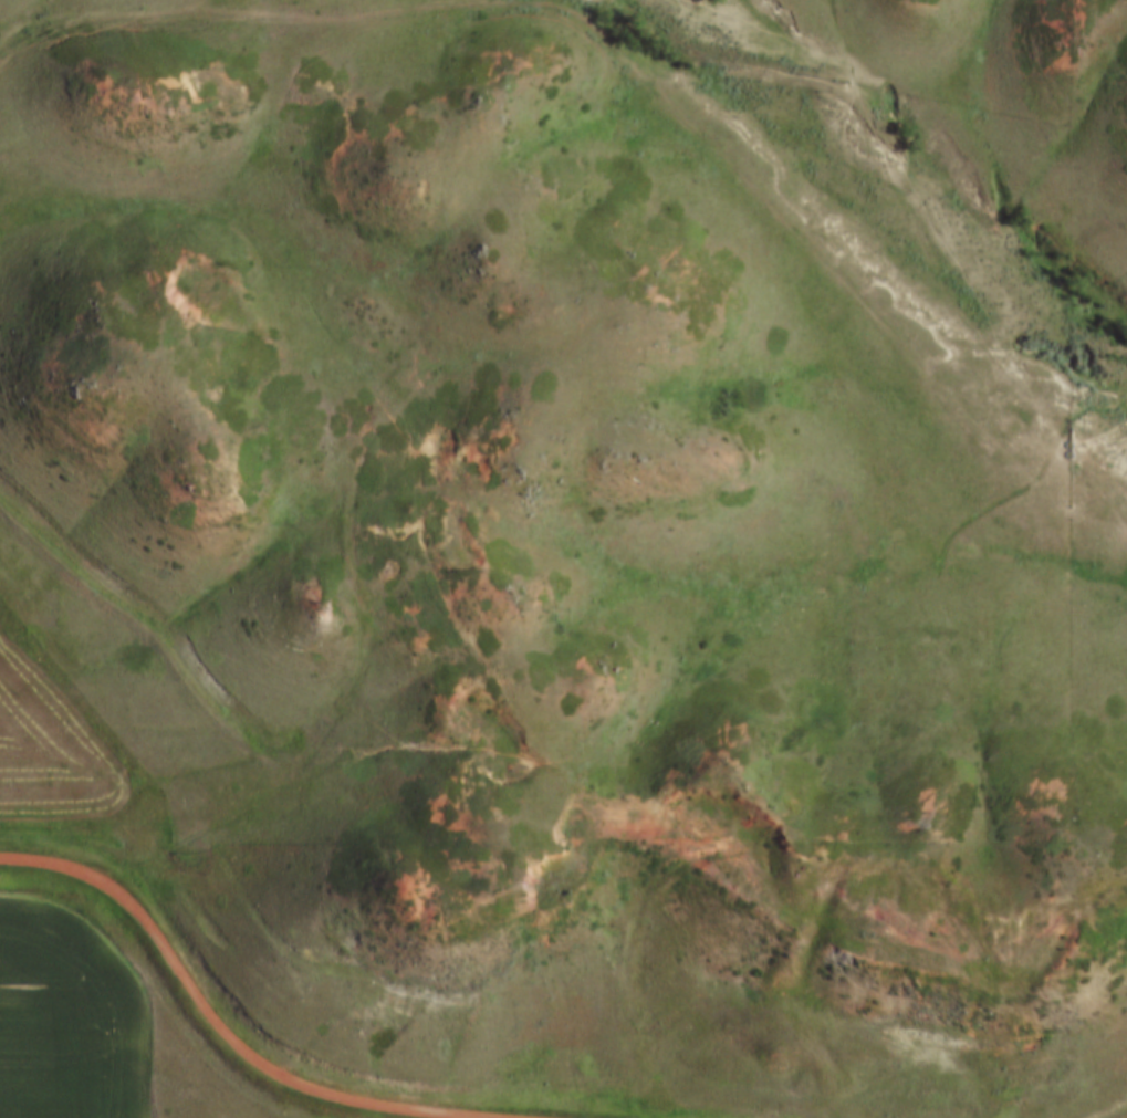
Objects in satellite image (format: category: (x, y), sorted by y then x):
road: (258, 1060)
road: (1118, 1112)

